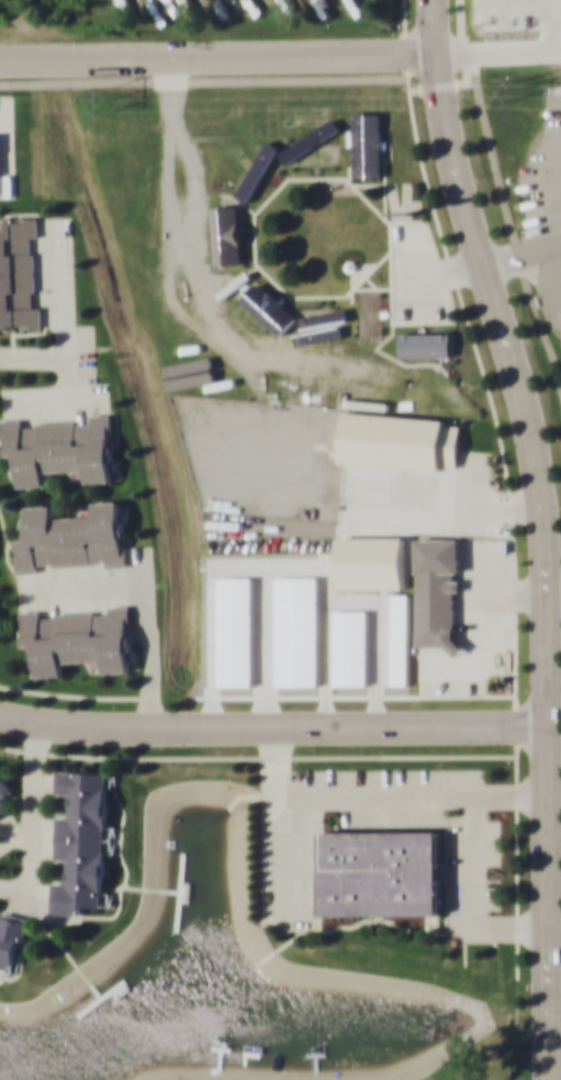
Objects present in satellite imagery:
road: (431, 26)
road: (461, 41)
road: (497, 51)
road: (217, 56)
road: (244, 79)
power tower: (519, 88)
power tower: (114, 98)
building: (242, 121)
building: (308, 125)
building: (366, 145)
building: (305, 151)
building: (259, 171)
building: (203, 219)
building: (229, 234)
road: (513, 241)
building: (18, 274)
building: (246, 305)
building: (318, 318)
building: (368, 319)
building: (426, 342)
building: (171, 361)
building: (440, 386)
building: (333, 394)
building: (400, 439)
building: (61, 448)
building: (72, 536)
road: (545, 559)
building: (437, 592)
building: (79, 638)
road: (272, 726)
building: (4, 792)
building: (82, 839)
building: (380, 871)
building: (11, 940)
road: (554, 972)

